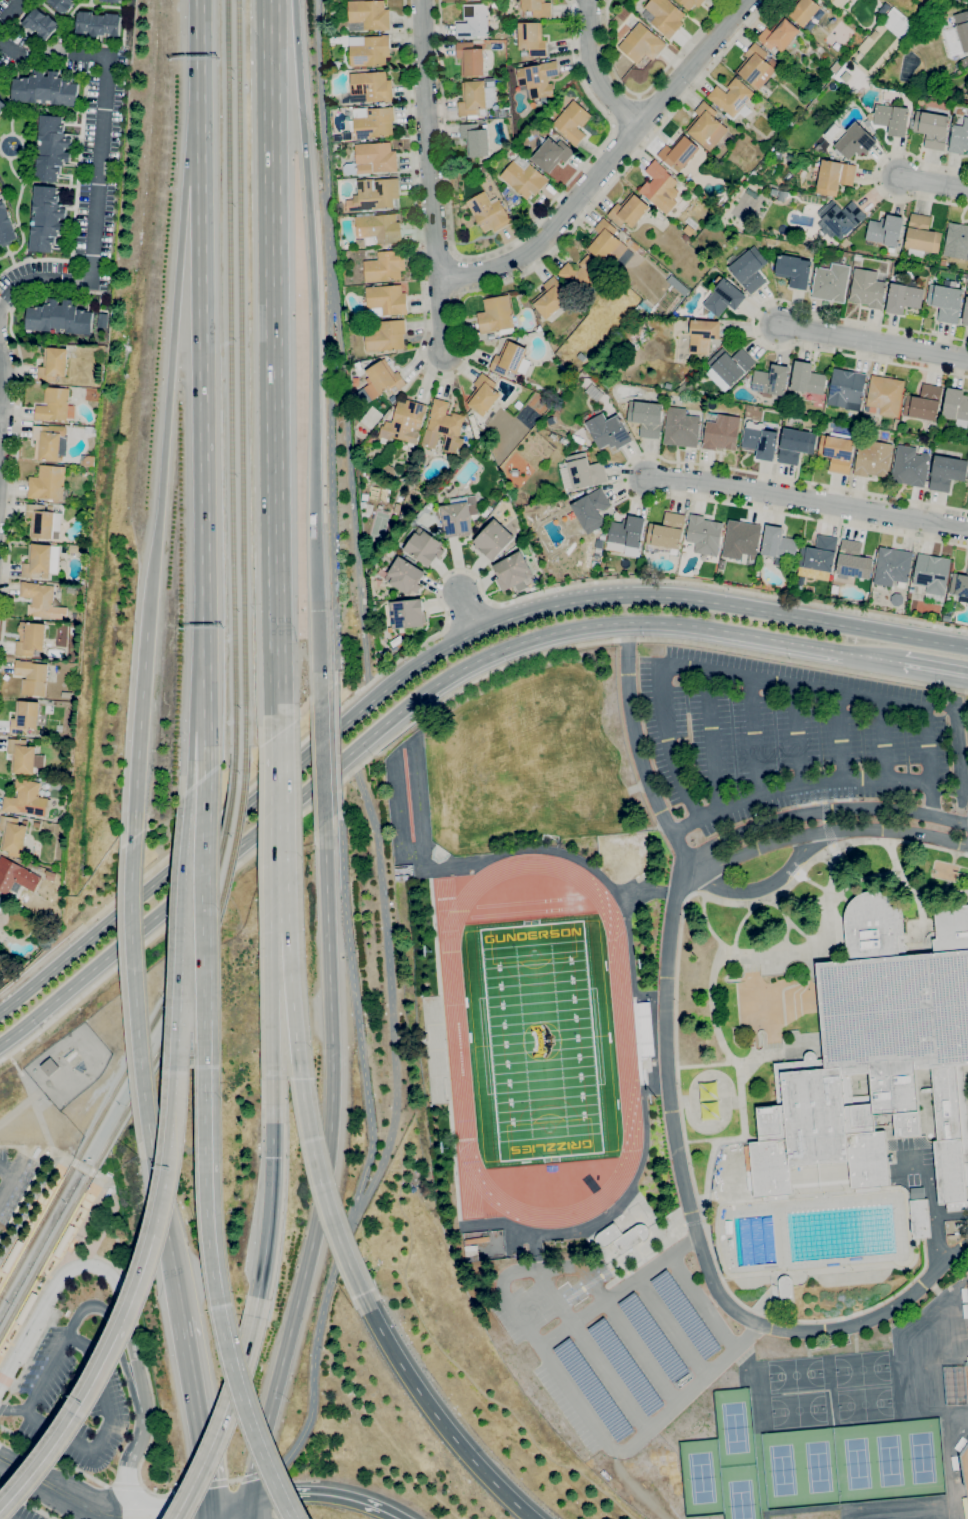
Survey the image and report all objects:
building: (830, 0)
building: (113, 1)
building: (689, 3)
building: (839, 3)
building: (62, 5)
building: (537, 8)
building: (804, 11)
road: (12, 14)
building: (368, 15)
road: (198, 16)
building: (665, 16)
building: (473, 21)
building: (41, 23)
building: (99, 23)
building: (962, 29)
building: (779, 34)
building: (532, 38)
building: (642, 43)
building: (369, 50)
building: (471, 59)
building: (757, 66)
road: (597, 71)
building: (538, 78)
building: (369, 87)
building: (45, 89)
road: (646, 89)
building: (731, 96)
building: (477, 97)
building: (2, 105)
building: (891, 119)
building: (373, 122)
building: (573, 122)
building: (707, 126)
building: (932, 129)
road: (428, 138)
building: (959, 138)
building: (475, 139)
building: (851, 139)
road: (324, 140)
building: (52, 148)
building: (679, 152)
building: (967, 153)
building: (552, 154)
building: (372, 159)
road: (98, 162)
road: (607, 163)
road: (874, 175)
building: (834, 176)
building: (524, 177)
building: (657, 183)
road: (933, 184)
building: (374, 194)
building: (629, 210)
building: (489, 212)
building: (841, 217)
building: (46, 219)
building: (5, 224)
building: (379, 229)
building: (885, 231)
building: (921, 236)
building: (956, 241)
building: (845, 242)
building: (606, 243)
road: (501, 245)
building: (858, 257)
building: (943, 262)
building: (385, 265)
building: (750, 270)
building: (794, 270)
building: (580, 273)
building: (831, 282)
building: (868, 288)
building: (550, 297)
building: (724, 297)
building: (903, 298)
building: (386, 300)
building: (946, 302)
building: (965, 313)
road: (441, 314)
building: (496, 315)
building: (59, 318)
road: (458, 320)
road: (753, 323)
road: (174, 333)
building: (703, 335)
building: (386, 336)
road: (873, 342)
road: (202, 346)
road: (315, 347)
building: (510, 359)
building: (53, 365)
building: (731, 365)
road: (274, 366)
railway: (241, 373)
railway: (231, 375)
building: (807, 378)
building: (382, 379)
building: (771, 380)
building: (847, 389)
road: (3, 393)
building: (483, 395)
building: (884, 396)
building: (392, 401)
building: (924, 403)
building: (55, 405)
building: (956, 406)
building: (387, 413)
building: (647, 418)
building: (404, 422)
building: (896, 424)
building: (474, 427)
building: (445, 428)
building: (681, 428)
building: (608, 431)
building: (721, 431)
building: (553, 435)
building: (49, 442)
building: (761, 442)
building: (796, 445)
building: (578, 446)
building: (837, 451)
building: (873, 459)
building: (89, 461)
building: (910, 467)
building: (388, 470)
building: (584, 471)
building: (515, 472)
building: (947, 472)
road: (14, 476)
road: (622, 477)
road: (331, 481)
building: (47, 483)
road: (352, 491)
road: (805, 501)
building: (50, 507)
building: (397, 508)
building: (591, 510)
building: (485, 512)
building: (459, 516)
building: (43, 521)
building: (479, 524)
building: (667, 531)
building: (704, 534)
building: (627, 536)
building: (493, 539)
building: (741, 539)
building: (599, 543)
building: (778, 544)
building: (73, 547)
building: (424, 547)
building: (819, 557)
building: (41, 561)
building: (853, 562)
building: (892, 566)
building: (512, 571)
building: (932, 573)
building: (405, 576)
road: (619, 582)
building: (960, 586)
building: (38, 599)
building: (897, 599)
road: (467, 612)
building: (407, 613)
building: (30, 638)
road: (428, 657)
road: (933, 667)
building: (32, 677)
road: (791, 685)
building: (67, 694)
road: (431, 708)
road: (400, 709)
building: (25, 717)
road: (206, 717)
road: (192, 724)
road: (632, 730)
road: (138, 734)
road: (755, 737)
road: (796, 737)
road: (839, 738)
road: (711, 741)
parking lot: (781, 741)
road: (883, 741)
road: (667, 745)
road: (337, 746)
building: (21, 756)
road: (321, 759)
road: (928, 760)
road: (796, 788)
track: (407, 794)
building: (26, 799)
road: (819, 811)
road: (278, 816)
building: (24, 822)
building: (37, 824)
road: (825, 831)
railway: (236, 832)
building: (12, 835)
railway: (223, 836)
road: (183, 841)
road: (679, 853)
building: (401, 870)
building: (50, 875)
building: (16, 876)
building: (401, 877)
road: (759, 888)
road: (208, 897)
track: (518, 902)
building: (0, 908)
road: (344, 913)
track: (513, 913)
road: (181, 946)
railway: (181, 965)
railway: (197, 970)
road: (391, 975)
road: (136, 984)
road: (271, 989)
road: (291, 989)
building: (643, 1030)
track: (624, 1038)
park: (540, 1041)
park: (541, 1041)
building: (434, 1048)
road: (11, 1058)
building: (876, 1058)
building: (49, 1066)
road: (677, 1069)
road: (21, 1105)
road: (36, 1111)
road: (272, 1118)
road: (25, 1146)
road: (24, 1151)
railway: (80, 1152)
road: (59, 1154)
traffic signals: (273, 1157)
road: (65, 1161)
road: (324, 1165)
road: (83, 1166)
road: (6, 1170)
railway: (65, 1172)
road: (11, 1175)
railway: (87, 1179)
road: (97, 1179)
parking lot: (14, 1180)
railway: (100, 1187)
road: (323, 1188)
road: (25, 1196)
road: (930, 1202)
road: (108, 1214)
building: (919, 1214)
road: (168, 1223)
road: (694, 1226)
road: (268, 1236)
building: (622, 1237)
building: (64, 1240)
road: (341, 1249)
road: (67, 1250)
building: (471, 1252)
building: (13, 1256)
road: (523, 1270)
road: (221, 1275)
building: (786, 1289)
road: (618, 1292)
road: (48, 1298)
road: (702, 1301)
building: (27, 1308)
road: (83, 1308)
road: (131, 1309)
building: (684, 1313)
road: (125, 1325)
road: (671, 1327)
building: (652, 1336)
parking lot: (617, 1340)
road: (131, 1343)
road: (589, 1350)
road: (641, 1352)
road: (27, 1356)
building: (626, 1366)
park: (862, 1369)
park: (795, 1375)
road: (6, 1380)
building: (593, 1389)
parking lot: (73, 1399)
road: (1, 1405)
park: (865, 1405)
road: (13, 1410)
road: (199, 1410)
park: (798, 1410)
road: (436, 1414)
road: (223, 1419)
park: (735, 1425)
road: (105, 1426)
road: (138, 1432)
road: (642, 1435)
road: (53, 1457)
park: (930, 1457)
park: (893, 1460)
park: (857, 1463)
park: (820, 1466)
park: (783, 1469)
stadium: (964, 1471)
park: (702, 1477)
road: (225, 1482)
road: (68, 1486)
road: (125, 1486)
road: (127, 1489)
park: (742, 1492)
road: (275, 1494)
road: (41, 1495)
road: (325, 1495)
traffic signals: (250, 1500)
road: (179, 1503)
road: (231, 1503)
road: (27, 1504)
traffic signals: (212, 1507)
parking lot: (16, 1508)
road: (176, 1508)
road: (248, 1509)
road: (211, 1513)
road: (4, 1516)

